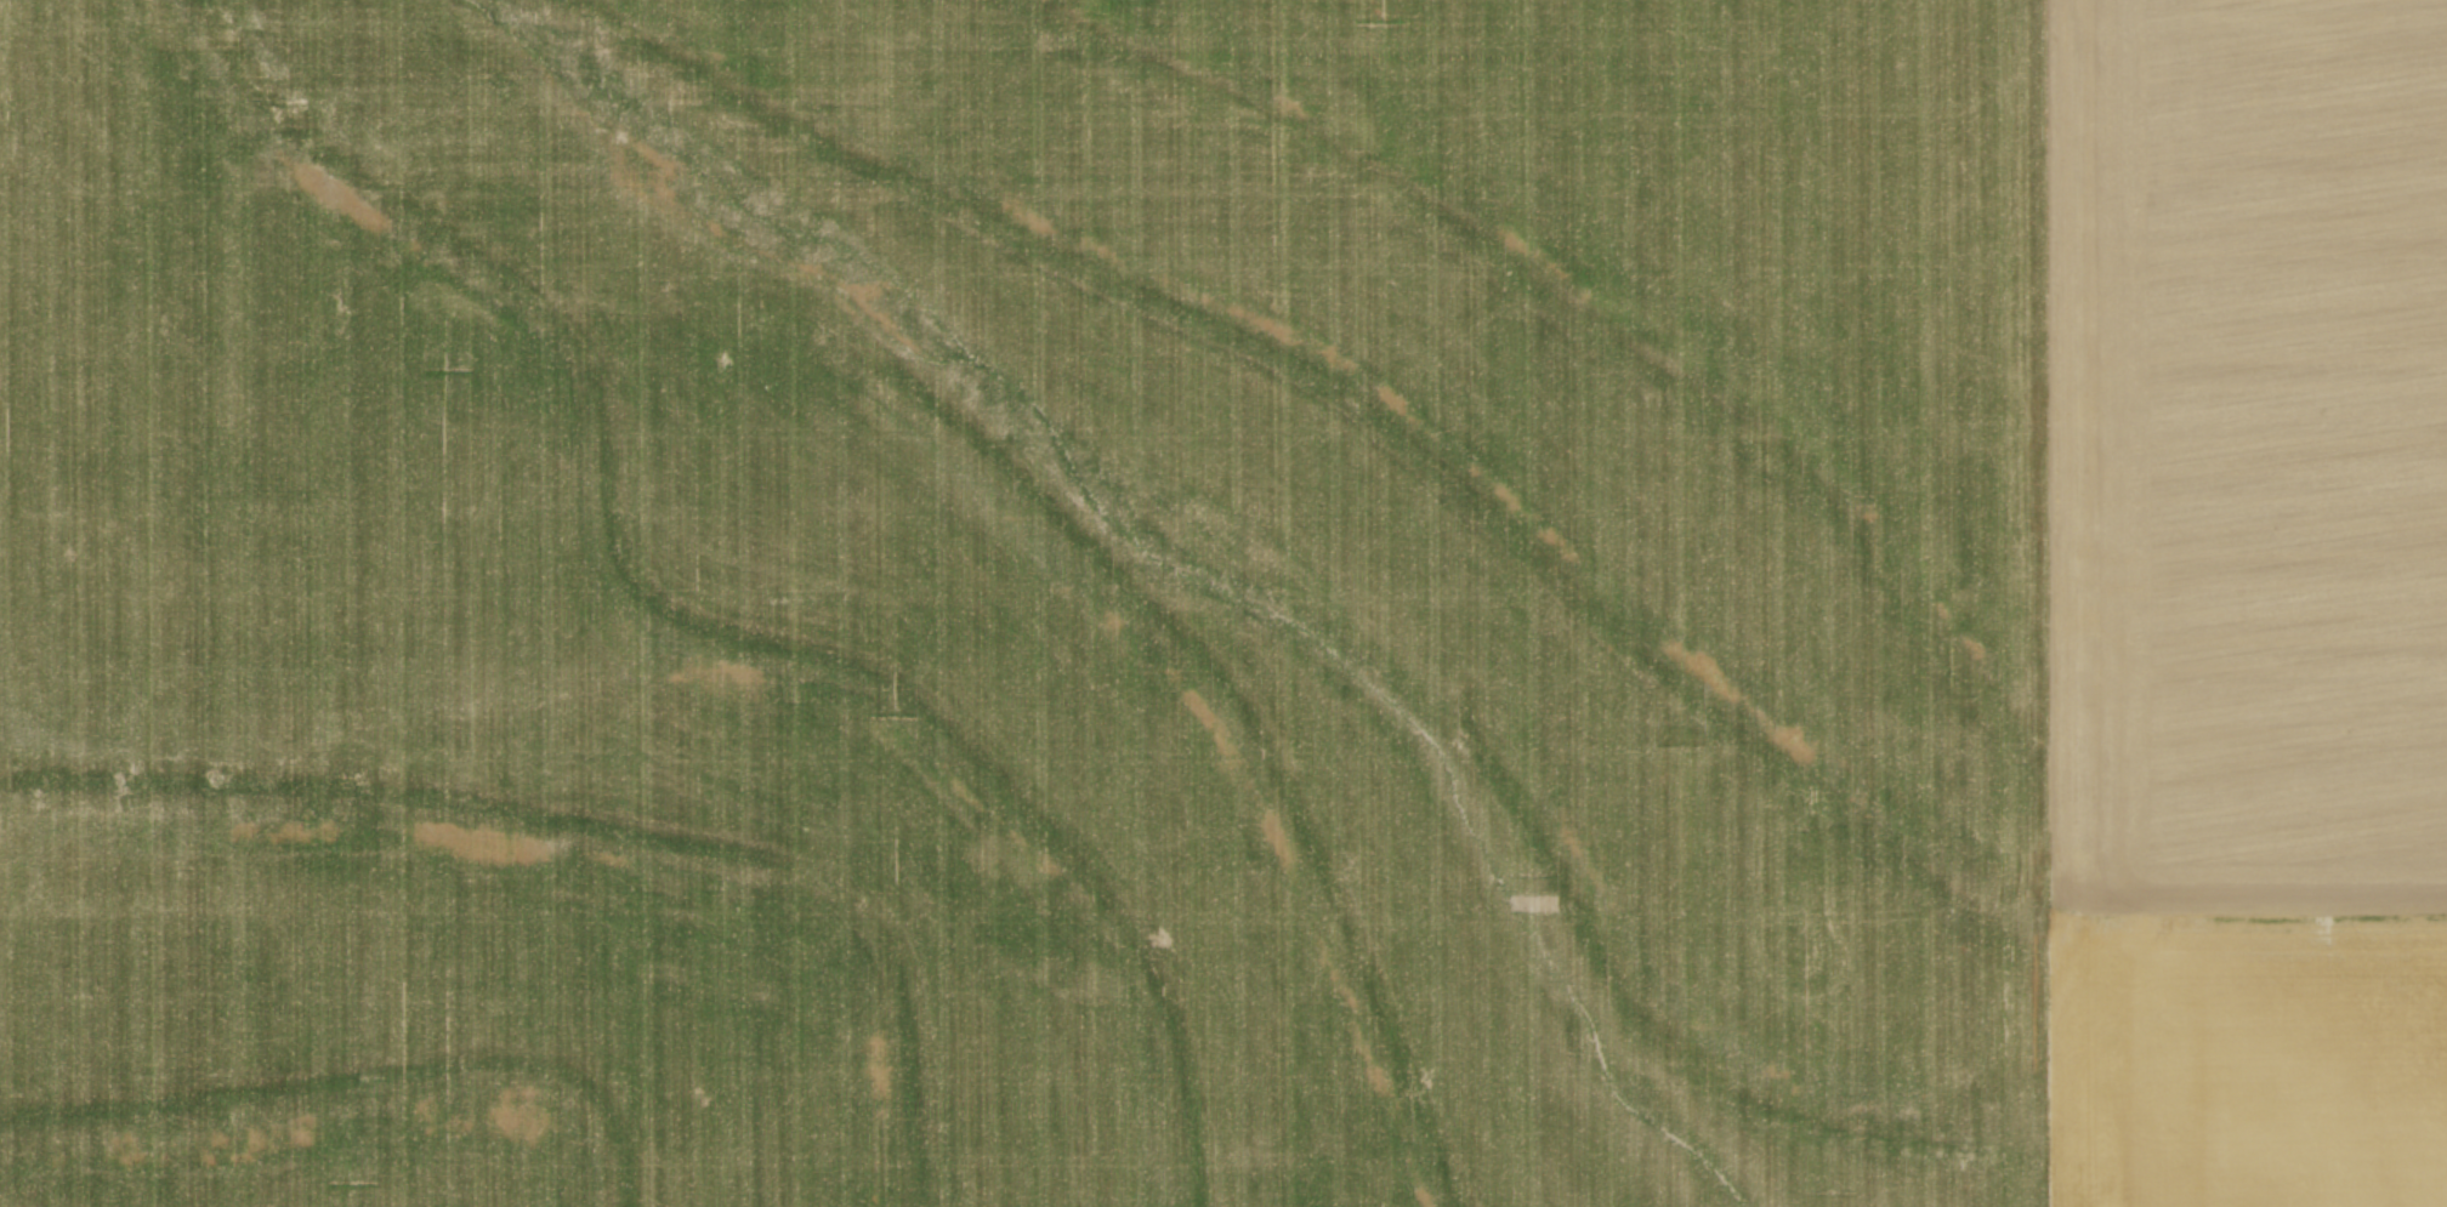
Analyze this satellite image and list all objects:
crop: (1223, 603)

